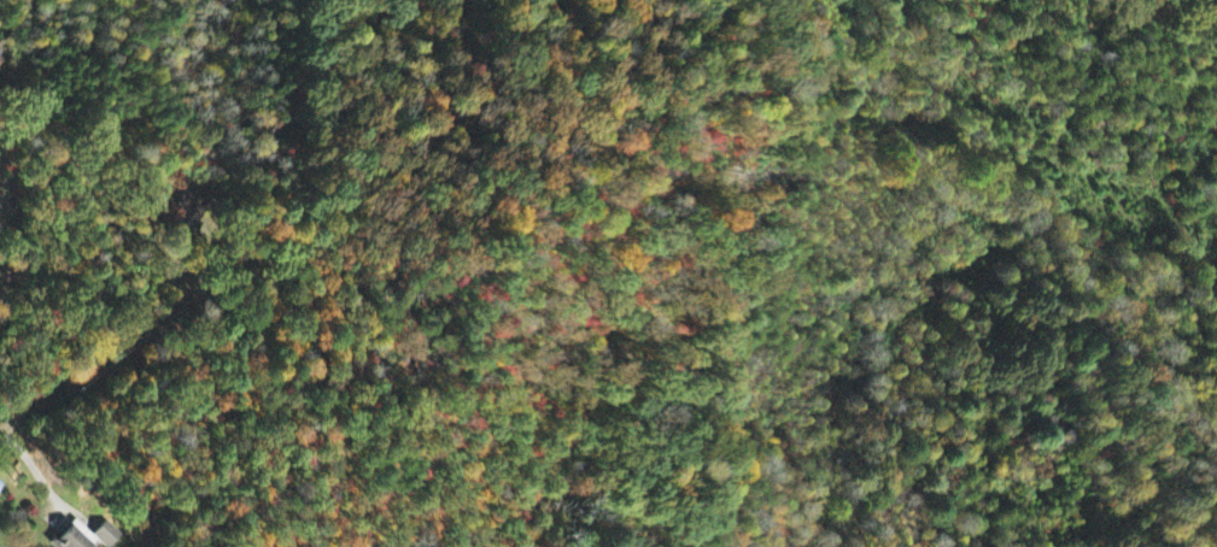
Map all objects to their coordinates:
building: (188, 208)
road: (110, 375)
building: (105, 535)
building: (72, 537)

